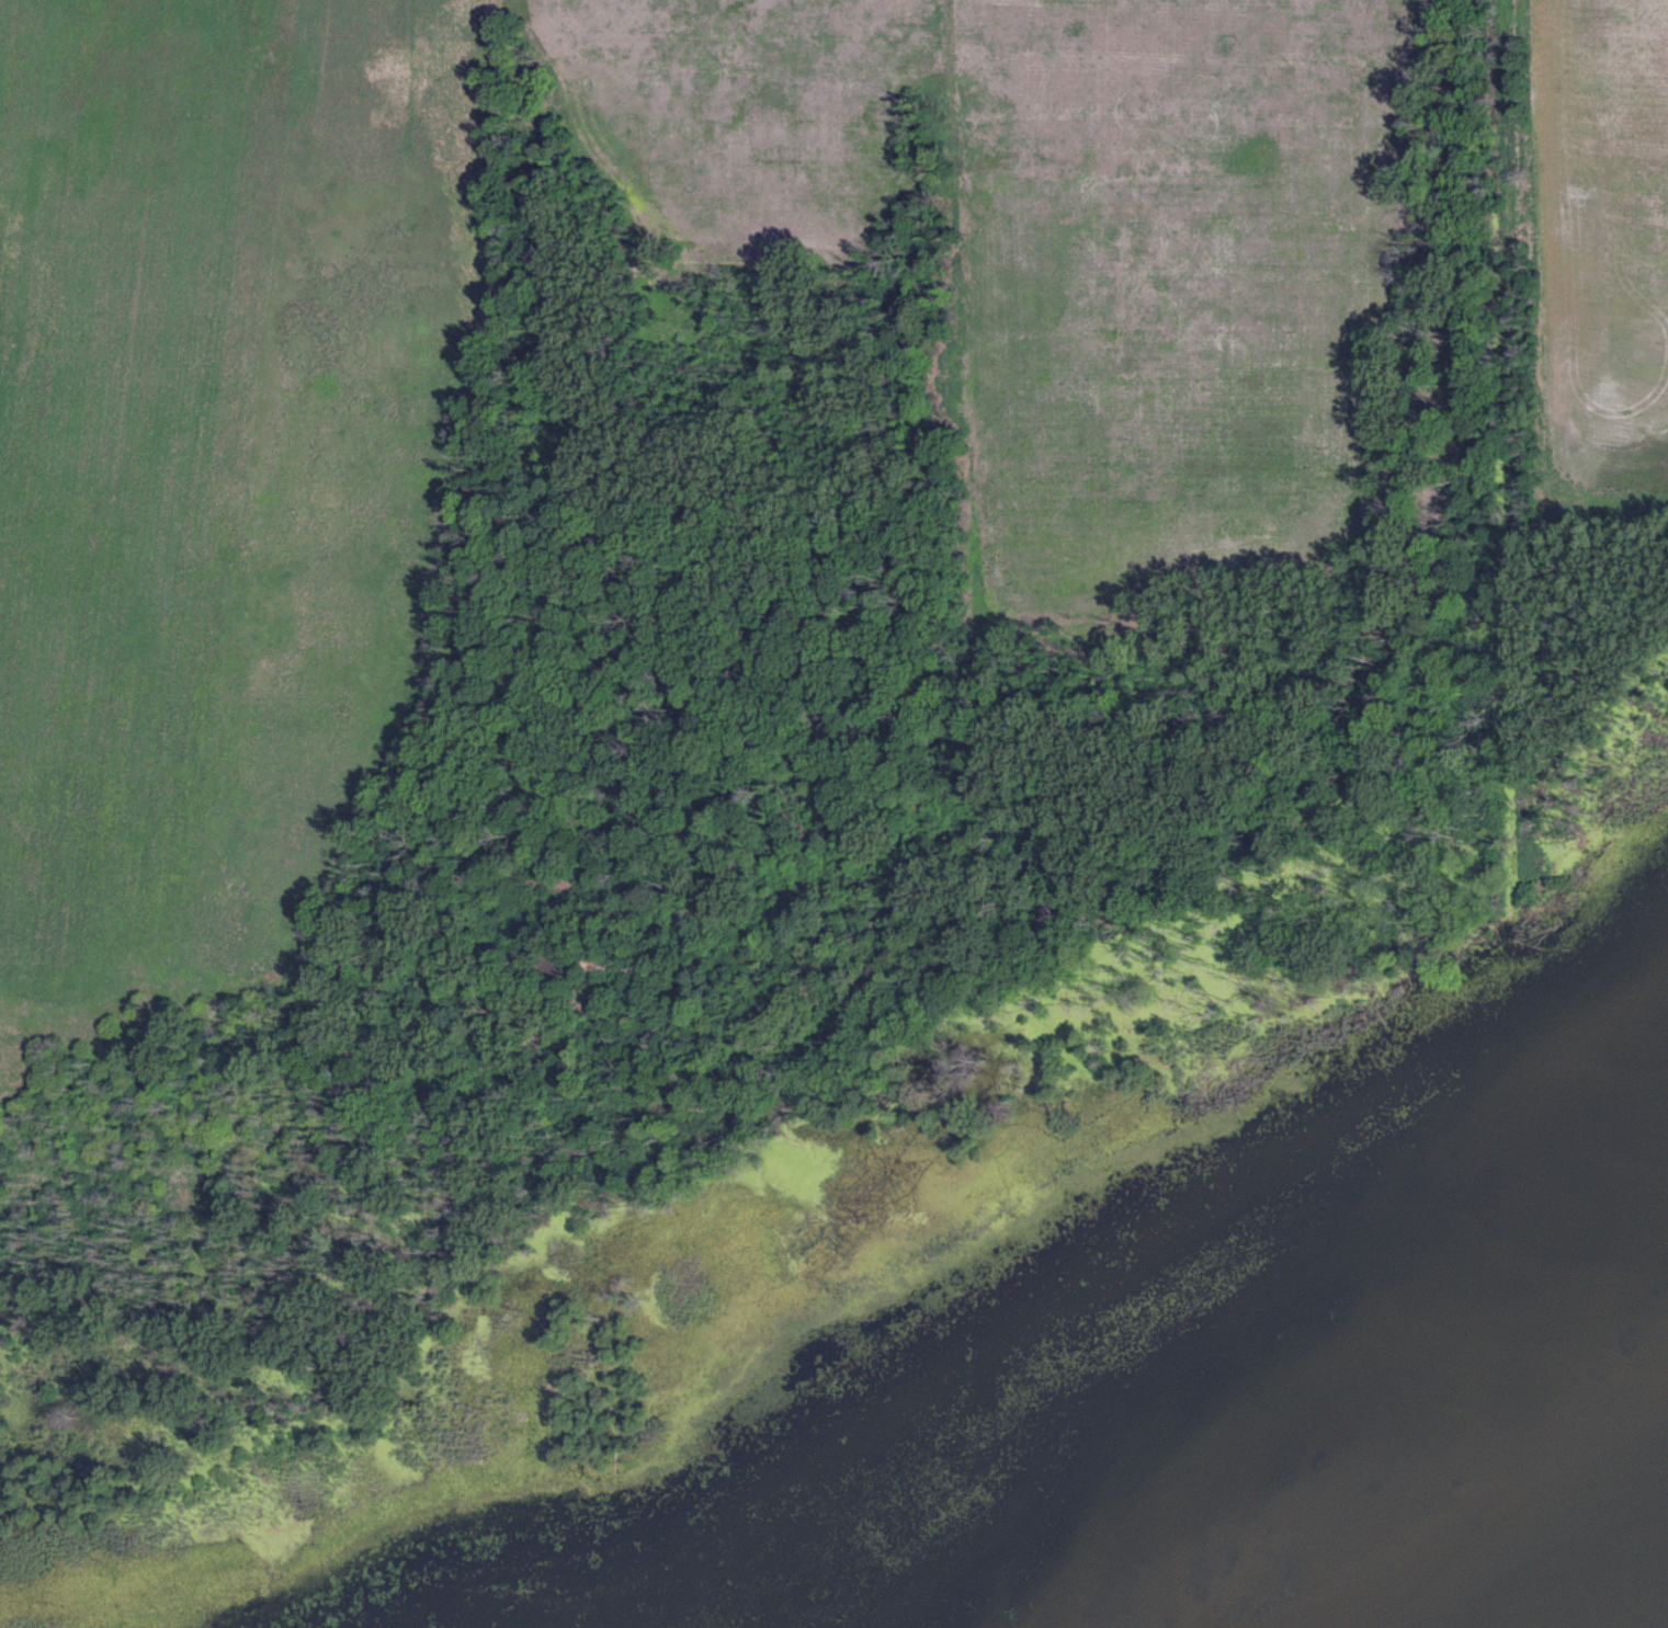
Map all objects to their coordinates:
road: (1505, 275)
river: (1645, 1613)

